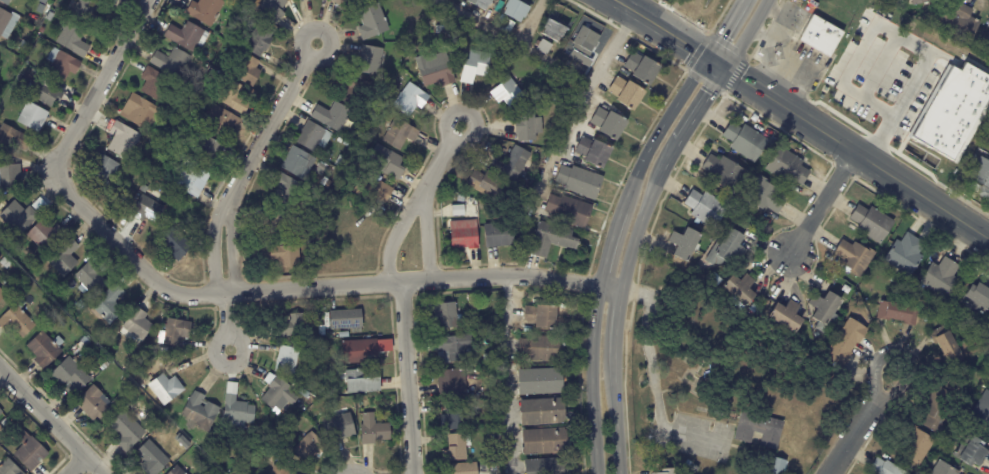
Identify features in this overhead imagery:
building: (299, 0)
building: (7, 1)
building: (112, 1)
building: (917, 1)
building: (348, 2)
building: (482, 3)
building: (810, 7)
building: (273, 9)
building: (517, 9)
building: (208, 10)
building: (89, 15)
building: (51, 16)
building: (374, 22)
road: (530, 22)
building: (955, 22)
building: (8, 23)
building: (509, 26)
road: (660, 27)
road: (778, 27)
road: (723, 28)
building: (440, 30)
building: (553, 30)
building: (41, 33)
road: (745, 34)
building: (190, 35)
road: (901, 35)
building: (234, 36)
building: (820, 36)
building: (263, 39)
building: (75, 40)
building: (986, 41)
road: (515, 42)
building: (25, 44)
building: (545, 46)
building: (33, 48)
building: (584, 49)
building: (26, 58)
building: (373, 60)
building: (174, 61)
road: (715, 62)
road: (800, 63)
building: (64, 64)
building: (476, 65)
building: (643, 68)
building: (249, 69)
building: (440, 73)
building: (211, 77)
building: (156, 83)
building: (355, 88)
building: (45, 93)
building: (510, 93)
building: (628, 93)
building: (235, 96)
building: (413, 100)
building: (951, 108)
building: (140, 110)
road: (578, 110)
building: (34, 117)
road: (273, 117)
building: (334, 117)
building: (222, 121)
building: (610, 124)
road: (662, 124)
building: (528, 125)
building: (186, 126)
building: (401, 135)
building: (315, 136)
building: (162, 137)
building: (13, 139)
building: (125, 140)
building: (743, 140)
building: (988, 142)
building: (182, 148)
building: (212, 152)
building: (595, 152)
road: (856, 153)
road: (440, 158)
building: (180, 160)
building: (342, 160)
building: (300, 162)
building: (389, 162)
building: (518, 162)
building: (784, 166)
building: (324, 168)
building: (106, 169)
building: (722, 173)
building: (373, 175)
building: (981, 177)
building: (11, 178)
building: (194, 179)
building: (582, 181)
building: (492, 186)
building: (286, 188)
building: (384, 190)
building: (763, 196)
building: (463, 199)
road: (822, 203)
building: (703, 207)
building: (149, 210)
building: (460, 210)
building: (572, 211)
building: (485, 213)
building: (21, 218)
building: (734, 218)
building: (277, 222)
building: (870, 222)
road: (395, 232)
road: (427, 234)
building: (465, 235)
building: (499, 235)
building: (49, 236)
building: (554, 238)
road: (609, 239)
road: (212, 241)
road: (233, 243)
building: (177, 244)
building: (683, 244)
building: (728, 250)
building: (904, 254)
building: (66, 257)
building: (286, 257)
building: (852, 257)
road: (628, 259)
building: (939, 278)
building: (92, 279)
building: (842, 286)
road: (610, 287)
building: (737, 288)
road: (200, 294)
building: (3, 295)
building: (975, 296)
building: (82, 305)
building: (111, 306)
building: (823, 310)
building: (895, 313)
building: (935, 313)
building: (448, 316)
building: (784, 316)
building: (924, 317)
building: (539, 318)
building: (348, 319)
building: (19, 320)
road: (226, 321)
building: (139, 323)
building: (295, 326)
building: (324, 331)
building: (178, 332)
building: (346, 335)
building: (843, 340)
building: (87, 341)
building: (943, 346)
building: (457, 348)
building: (542, 348)
building: (47, 349)
building: (366, 350)
building: (324, 353)
building: (135, 358)
building: (289, 360)
building: (311, 369)
building: (73, 373)
road: (505, 374)
road: (407, 377)
road: (591, 379)
building: (544, 381)
building: (364, 383)
building: (454, 383)
building: (168, 389)
building: (281, 395)
building: (95, 405)
building: (937, 408)
building: (238, 411)
building: (1, 412)
building: (203, 412)
building: (981, 412)
building: (544, 413)
building: (458, 418)
road: (51, 421)
building: (1, 428)
building: (342, 428)
road: (862, 428)
building: (375, 430)
building: (757, 430)
building: (128, 431)
building: (268, 436)
building: (493, 436)
building: (261, 441)
building: (545, 442)
building: (914, 446)
building: (310, 448)
building: (459, 448)
building: (32, 452)
building: (970, 453)
building: (155, 459)
road: (75, 465)
building: (548, 466)
building: (774, 466)
building: (10, 468)
building: (494, 468)
building: (882, 468)
building: (283, 469)
building: (463, 469)
building: (940, 469)
building: (178, 470)
building: (666, 471)

